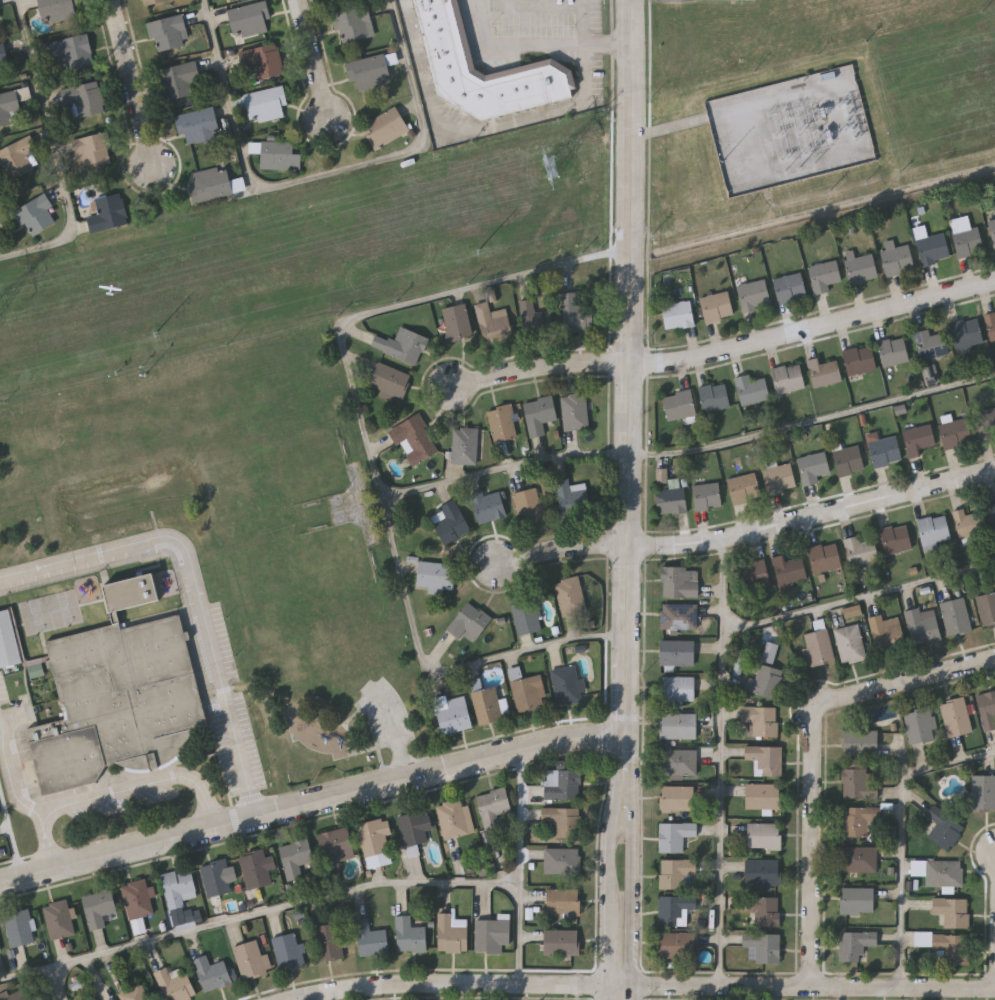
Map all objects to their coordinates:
building: (149, 1)
building: (57, 9)
building: (249, 18)
building: (354, 23)
building: (169, 31)
road: (538, 47)
building: (72, 51)
building: (2, 53)
building: (263, 60)
road: (313, 60)
road: (425, 61)
building: (452, 62)
building: (370, 70)
building: (1, 73)
building: (180, 80)
road: (134, 83)
building: (85, 97)
building: (13, 104)
building: (266, 104)
road: (542, 112)
building: (198, 124)
building: (387, 126)
power substation: (793, 132)
building: (93, 151)
road: (57, 152)
building: (280, 155)
building: (17, 157)
power tower: (567, 166)
road: (319, 175)
building: (215, 183)
building: (109, 213)
building: (37, 214)
building: (992, 230)
building: (966, 237)
building: (934, 249)
building: (897, 258)
building: (860, 267)
building: (824, 276)
road: (632, 282)
building: (790, 288)
building: (754, 296)
building: (717, 307)
building: (574, 314)
building: (677, 315)
building: (535, 319)
power tower: (0, 321)
building: (457, 321)
building: (492, 324)
building: (991, 326)
road: (814, 329)
building: (967, 334)
building: (400, 345)
building: (931, 345)
building: (894, 352)
building: (860, 360)
road: (542, 368)
building: (824, 373)
building: (932, 375)
building: (789, 379)
building: (389, 380)
road: (354, 388)
building: (752, 390)
building: (715, 398)
building: (680, 405)
building: (574, 412)
building: (538, 415)
road: (814, 420)
building: (502, 423)
building: (986, 424)
building: (955, 433)
building: (413, 439)
building: (920, 441)
building: (464, 446)
building: (885, 452)
building: (849, 461)
building: (813, 468)
building: (779, 479)
building: (744, 489)
building: (572, 495)
building: (671, 496)
building: (707, 496)
building: (487, 505)
building: (529, 506)
building: (993, 509)
road: (813, 516)
building: (450, 523)
building: (971, 523)
park: (268, 525)
building: (935, 531)
building: (896, 540)
road: (184, 546)
road: (563, 550)
building: (861, 551)
building: (825, 557)
building: (789, 572)
building: (435, 574)
building: (757, 574)
building: (680, 583)
road: (859, 594)
building: (570, 596)
building: (987, 610)
building: (956, 616)
building: (527, 617)
building: (680, 617)
building: (468, 622)
building: (921, 628)
building: (887, 632)
building: (9, 640)
building: (850, 644)
road: (628, 648)
building: (818, 648)
building: (677, 653)
building: (37, 670)
road: (443, 673)
building: (765, 675)
building: (567, 685)
building: (677, 691)
building: (529, 694)
building: (118, 695)
building: (486, 705)
building: (987, 710)
building: (455, 716)
building: (957, 717)
building: (761, 720)
building: (921, 726)
building: (678, 727)
building: (860, 743)
road: (818, 757)
building: (766, 760)
road: (721, 761)
building: (680, 762)
building: (857, 764)
road: (14, 768)
road: (634, 773)
road: (249, 775)
road: (142, 784)
building: (564, 784)
building: (860, 784)
building: (983, 794)
building: (763, 797)
building: (677, 799)
road: (313, 804)
building: (494, 806)
building: (456, 818)
building: (564, 820)
building: (862, 822)
road: (614, 824)
building: (944, 829)
building: (414, 830)
road: (11, 832)
road: (900, 835)
building: (675, 836)
building: (765, 836)
building: (376, 842)
road: (47, 843)
building: (337, 846)
building: (297, 857)
building: (860, 859)
building: (563, 860)
road: (519, 867)
building: (256, 869)
building: (763, 872)
building: (676, 873)
building: (945, 874)
building: (217, 878)
building: (179, 885)
building: (139, 898)
building: (563, 900)
building: (858, 900)
road: (634, 901)
road: (284, 905)
building: (99, 906)
building: (675, 909)
building: (764, 910)
building: (953, 912)
building: (60, 918)
building: (21, 927)
building: (453, 933)
building: (412, 934)
building: (494, 935)
building: (372, 938)
building: (330, 941)
building: (563, 942)
building: (856, 944)
building: (677, 946)
building: (763, 947)
building: (952, 949)
building: (289, 950)
building: (252, 959)
road: (609, 959)
road: (44, 969)
building: (214, 973)
building: (177, 985)
road: (647, 986)
building: (136, 993)
road: (634, 993)
building: (17, 996)

